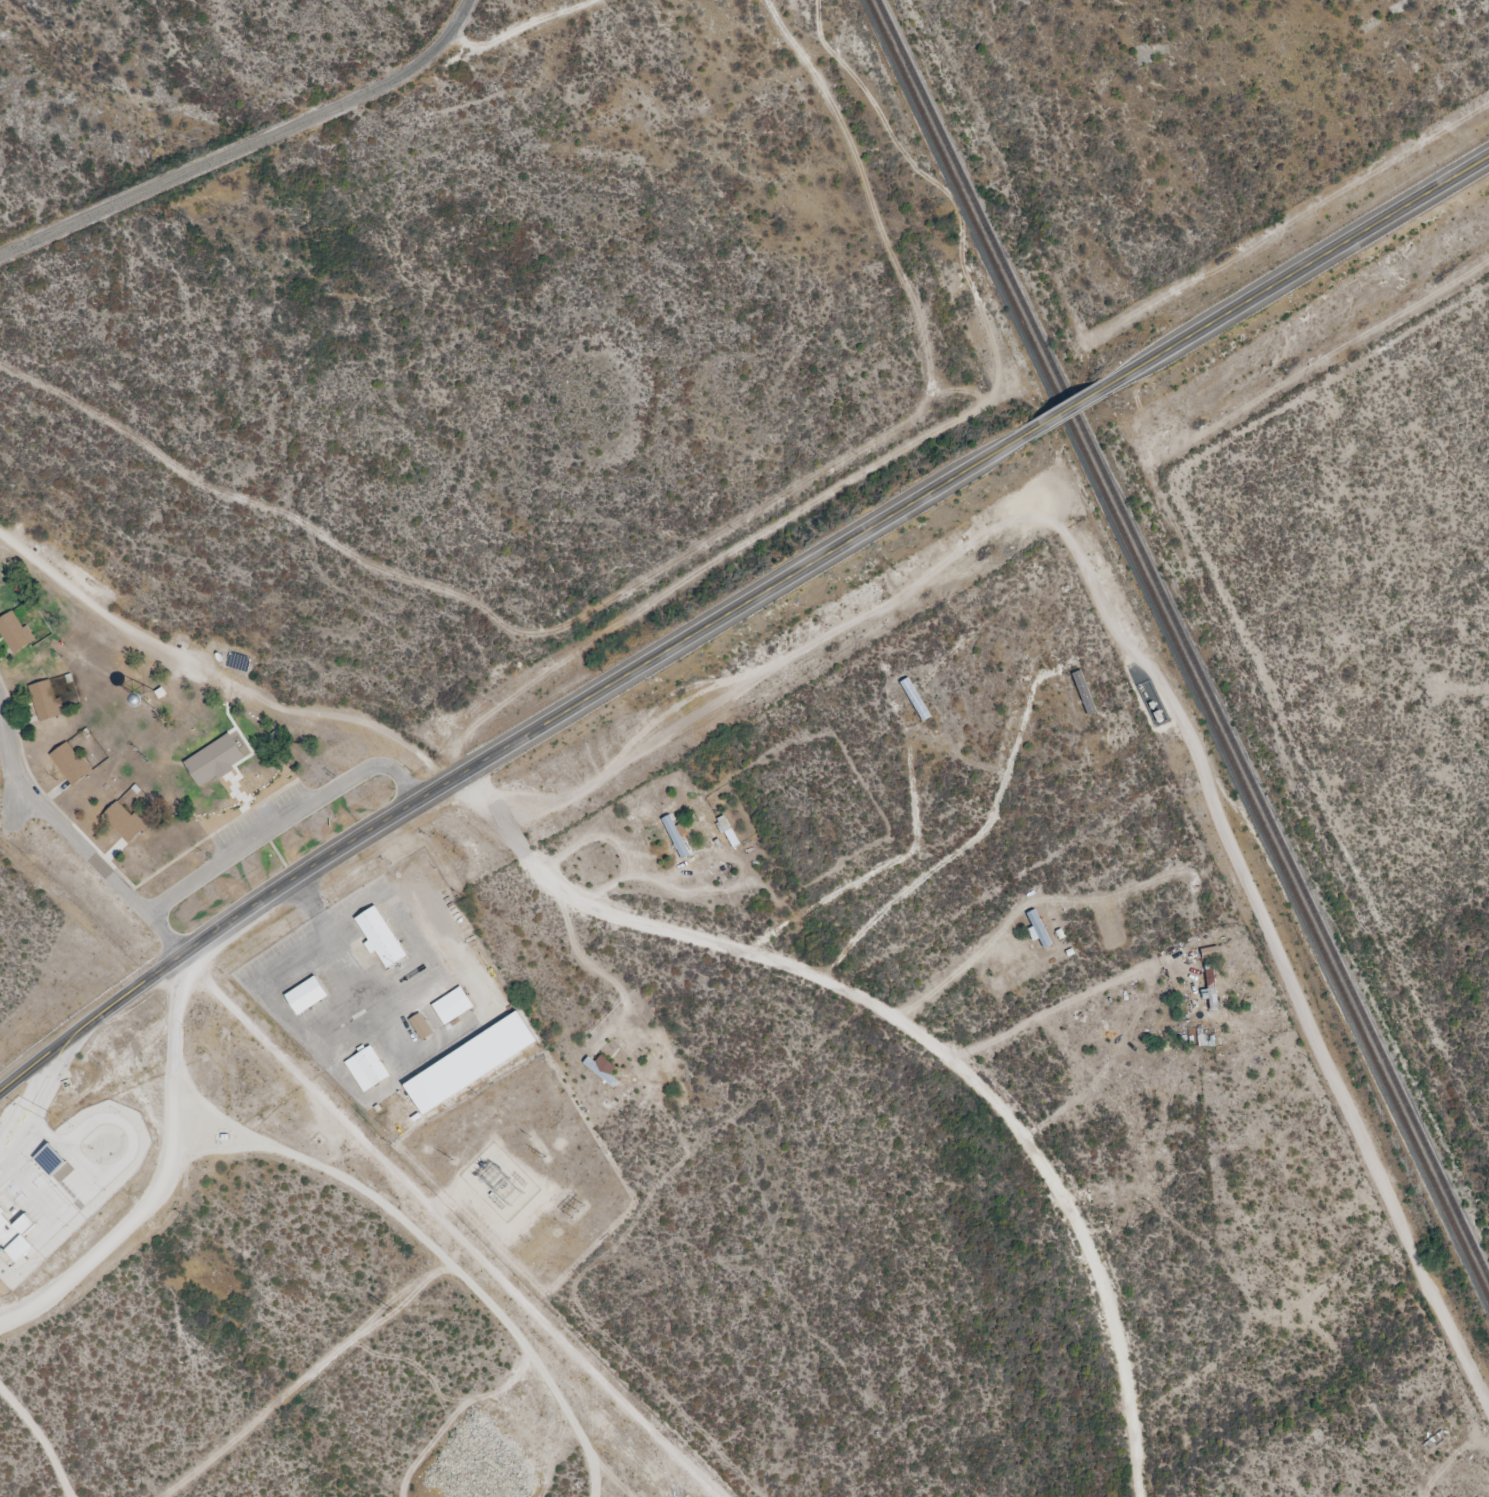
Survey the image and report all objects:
road: (248, 145)
road: (1299, 269)
road: (1068, 407)
building: (14, 632)
railway: (1184, 639)
railway: (1179, 649)
road: (1146, 663)
road: (217, 674)
building: (1083, 693)
water tower: (145, 699)
building: (914, 699)
building: (46, 700)
building: (1157, 717)
road: (551, 720)
building: (70, 763)
building: (219, 763)
building: (123, 822)
road: (286, 822)
road: (74, 837)
building: (674, 837)
building: (1039, 929)
building: (378, 936)
road: (355, 967)
building: (1210, 976)
building: (304, 994)
building: (451, 1004)
building: (419, 1025)
road: (915, 1032)
road: (70, 1049)
road: (42, 1058)
building: (466, 1061)
building: (366, 1068)
building: (599, 1069)
road: (25, 1100)
road: (32, 1124)
power tower: (546, 1156)
building: (54, 1159)
power substation: (501, 1182)
road: (167, 1185)
power tower: (517, 1186)
power tower: (500, 1204)
power tower: (579, 1212)
road: (448, 1226)
building: (18, 1231)
road: (438, 1249)
power tower: (649, 1280)
power tower: (391, 1309)
road: (44, 1437)
building: (1438, 1439)

